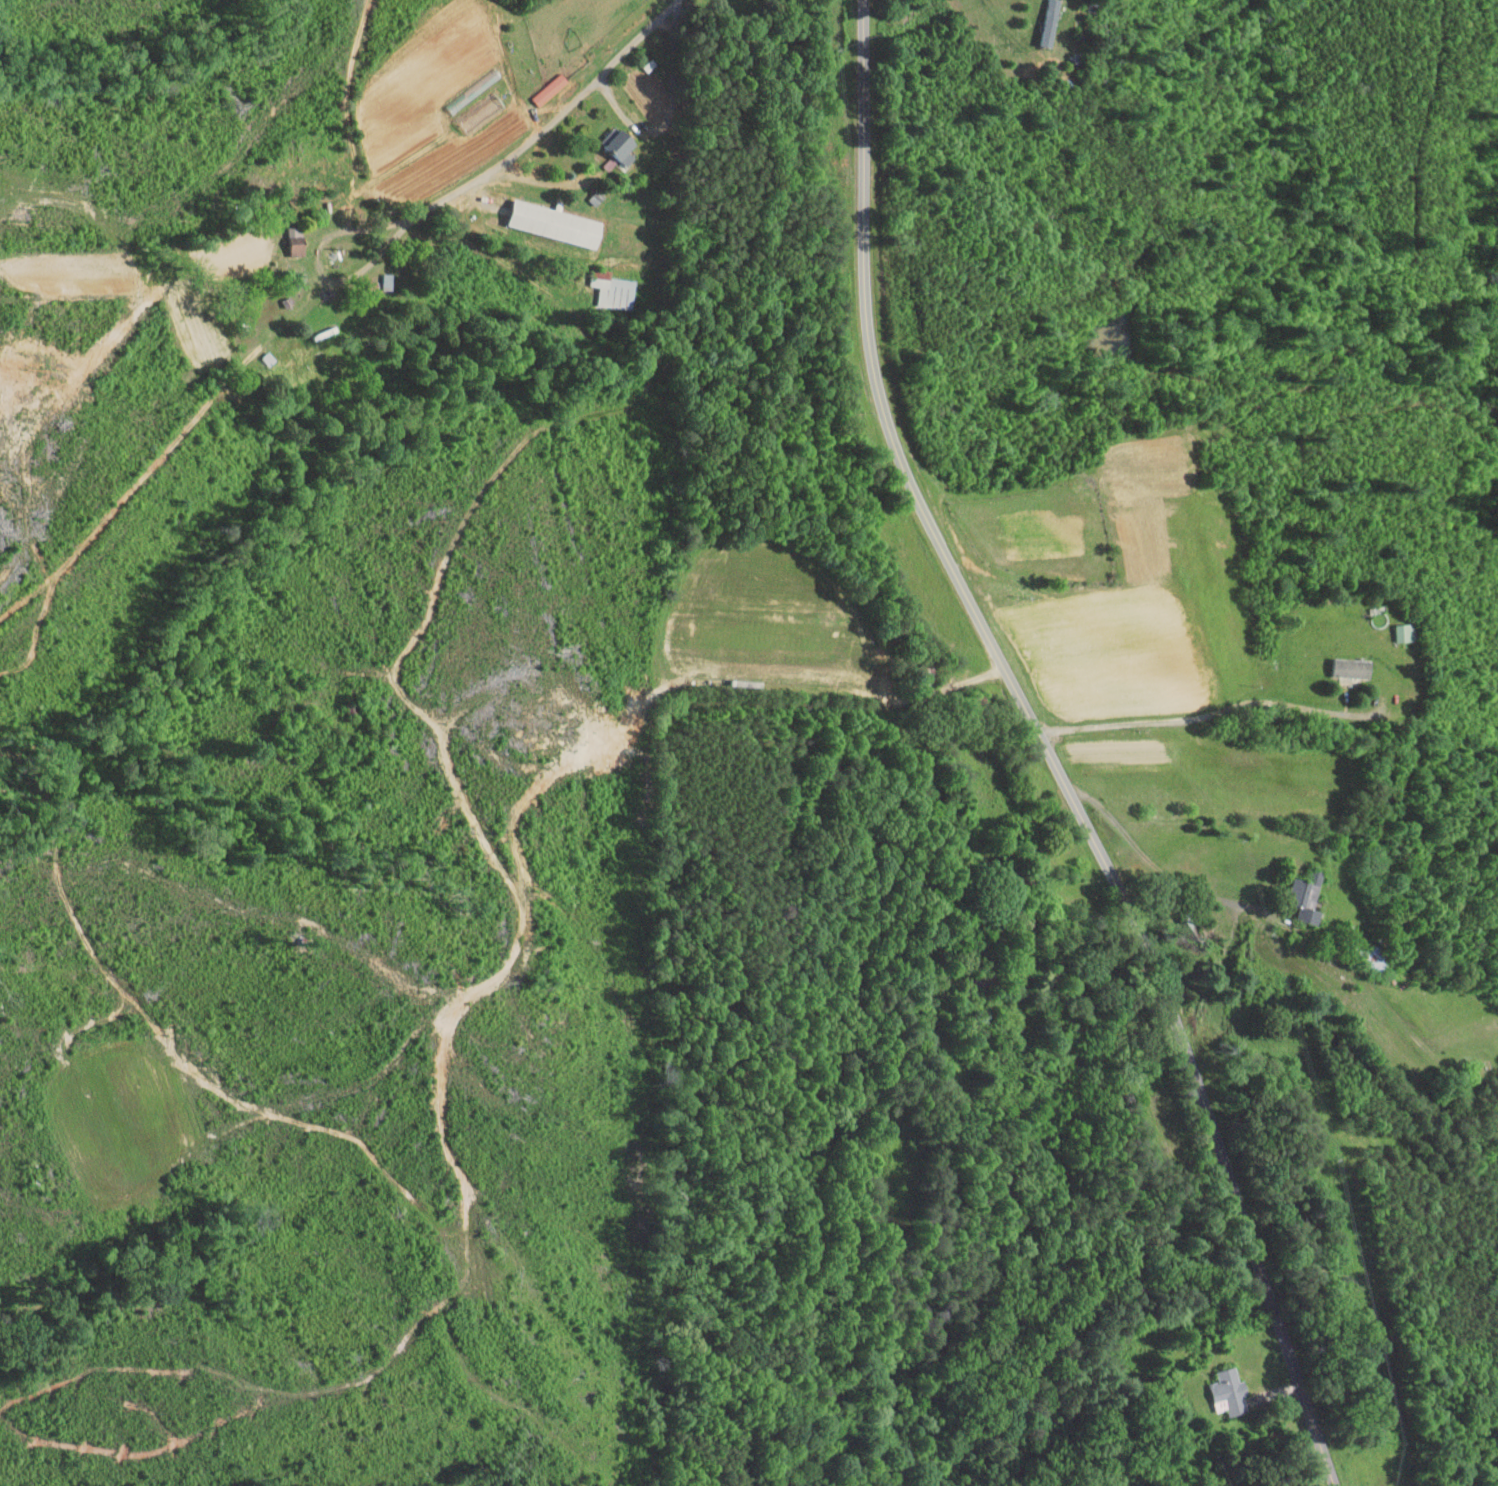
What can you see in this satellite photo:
building: (536, 84)
building: (468, 106)
road: (551, 121)
building: (609, 142)
building: (543, 219)
building: (376, 276)
building: (1401, 632)
building: (1349, 668)
road: (1193, 718)
road: (1046, 750)
building: (1304, 896)
building: (1235, 1395)

